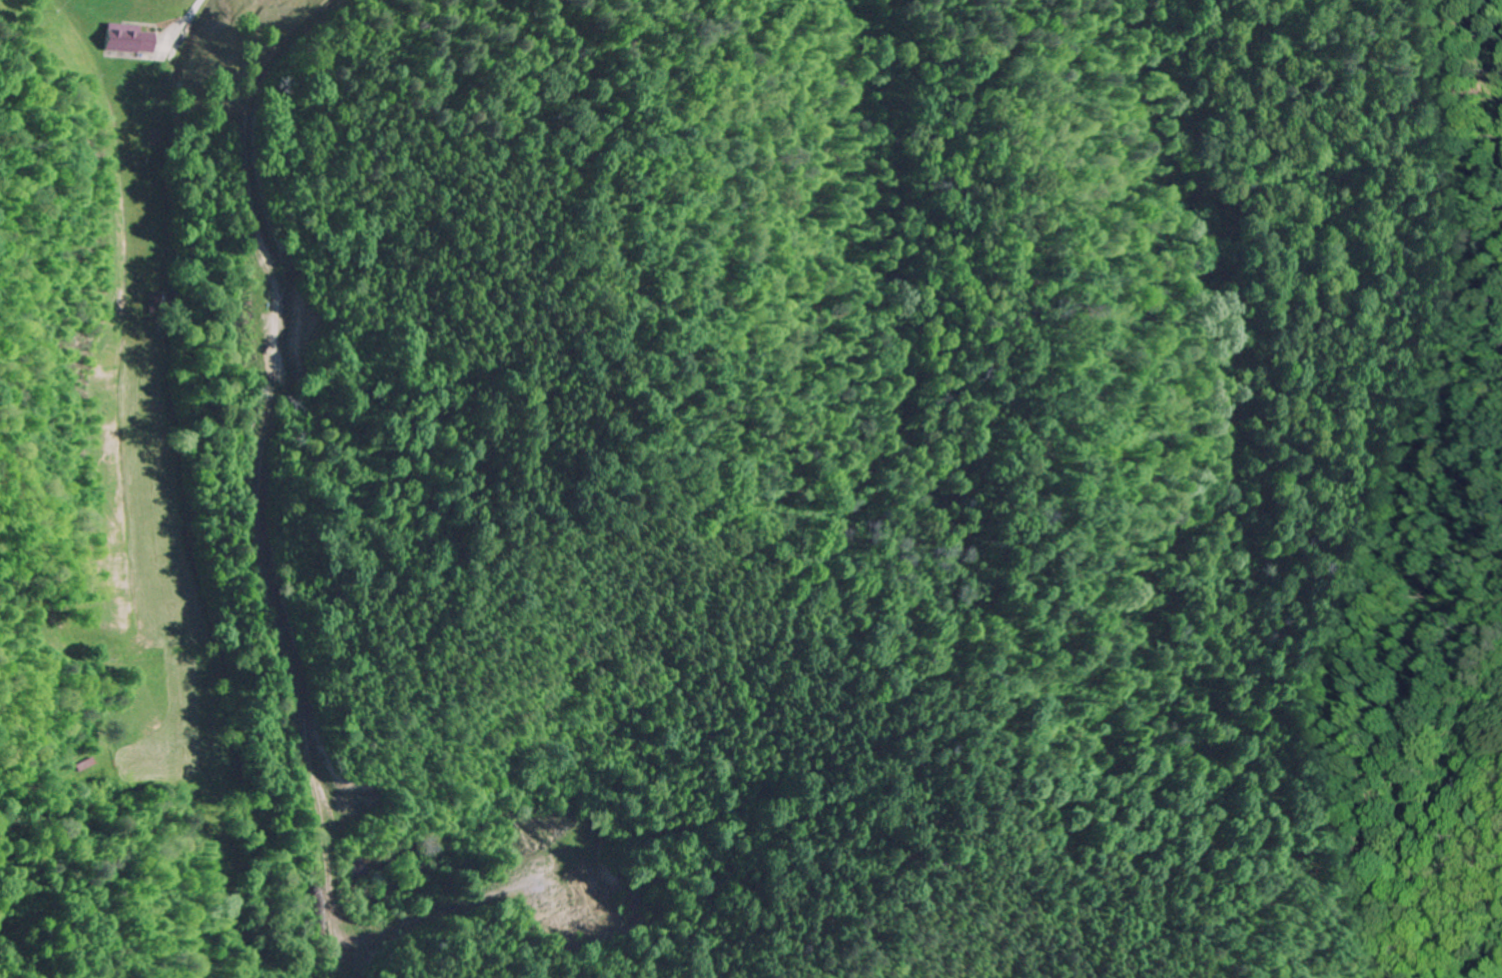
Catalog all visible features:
building: (129, 40)

